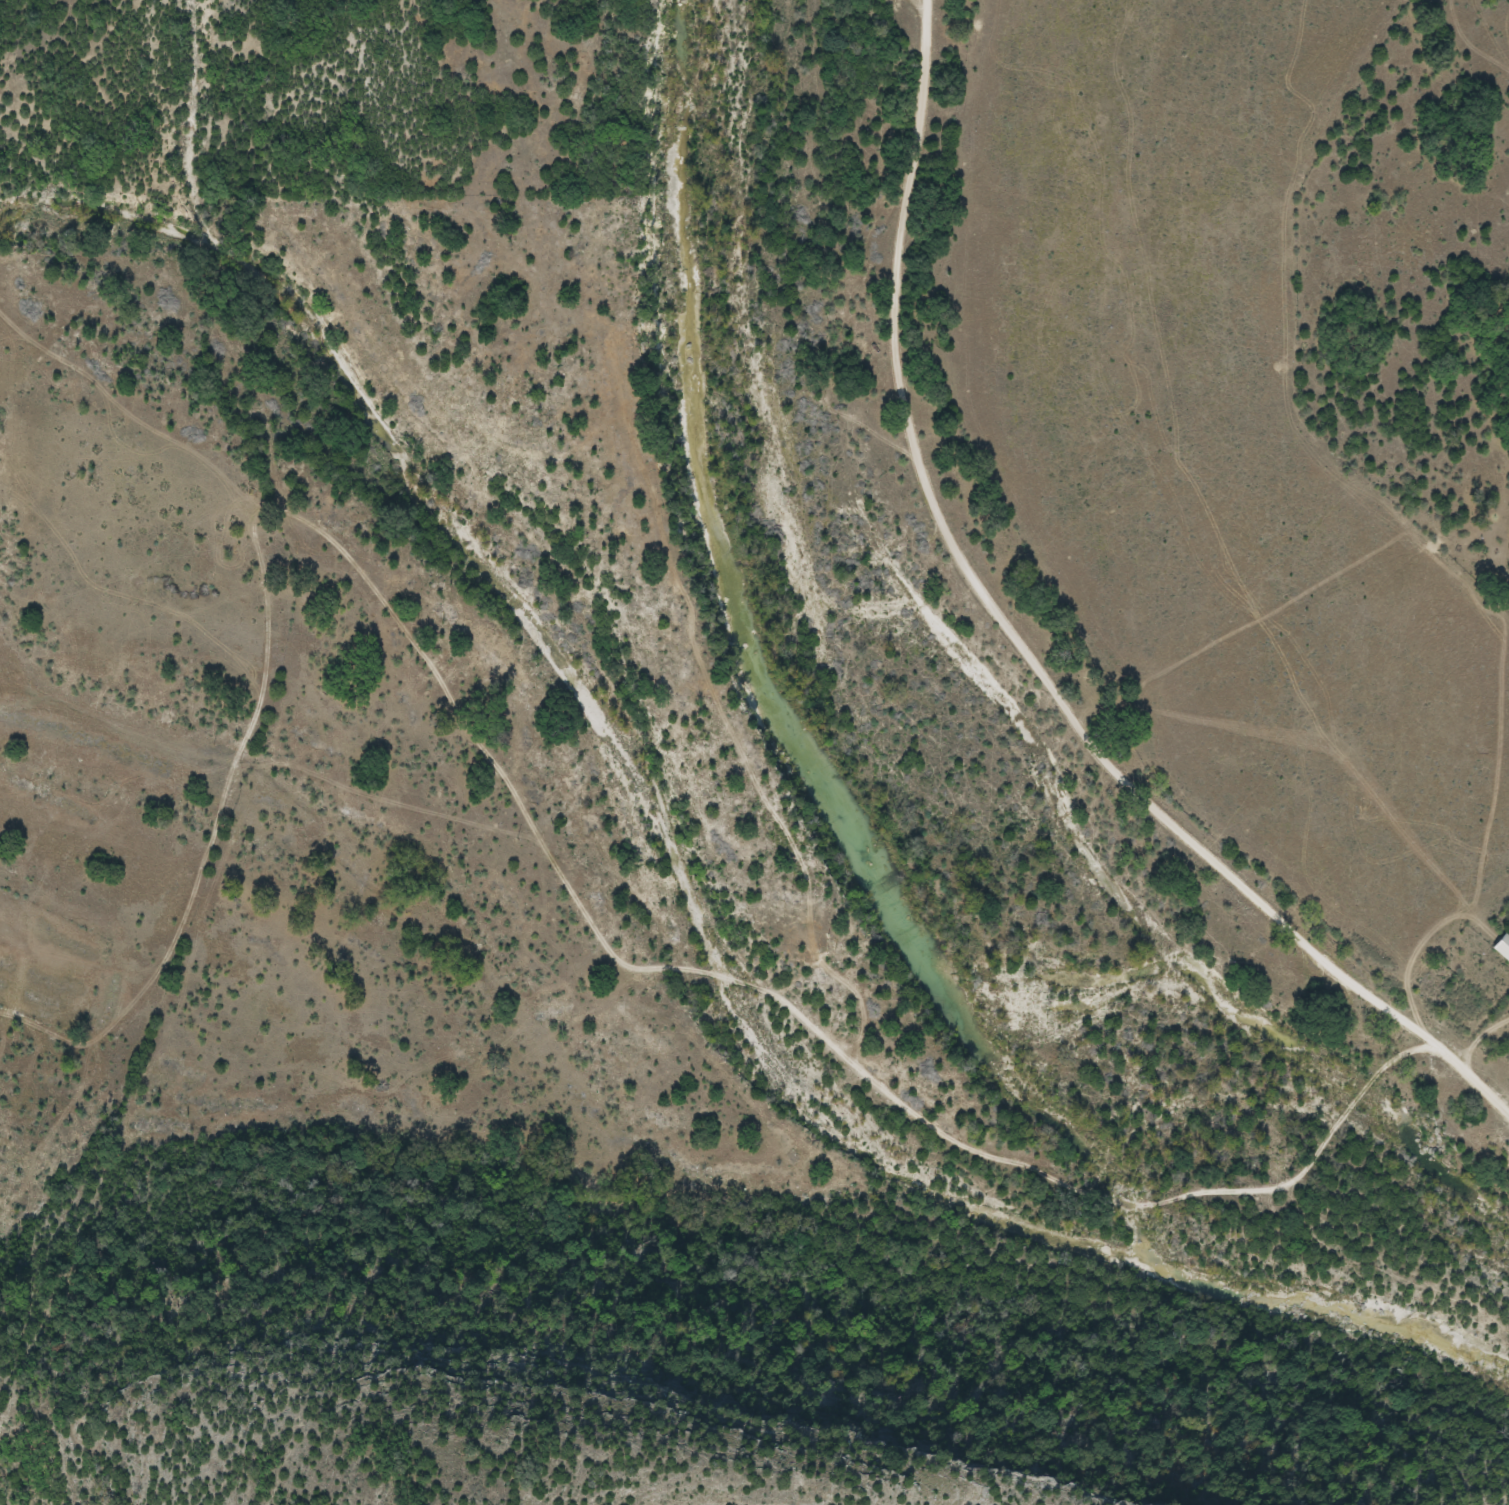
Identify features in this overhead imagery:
road: (1025, 639)
river: (857, 844)
building: (1502, 946)
road: (642, 966)

